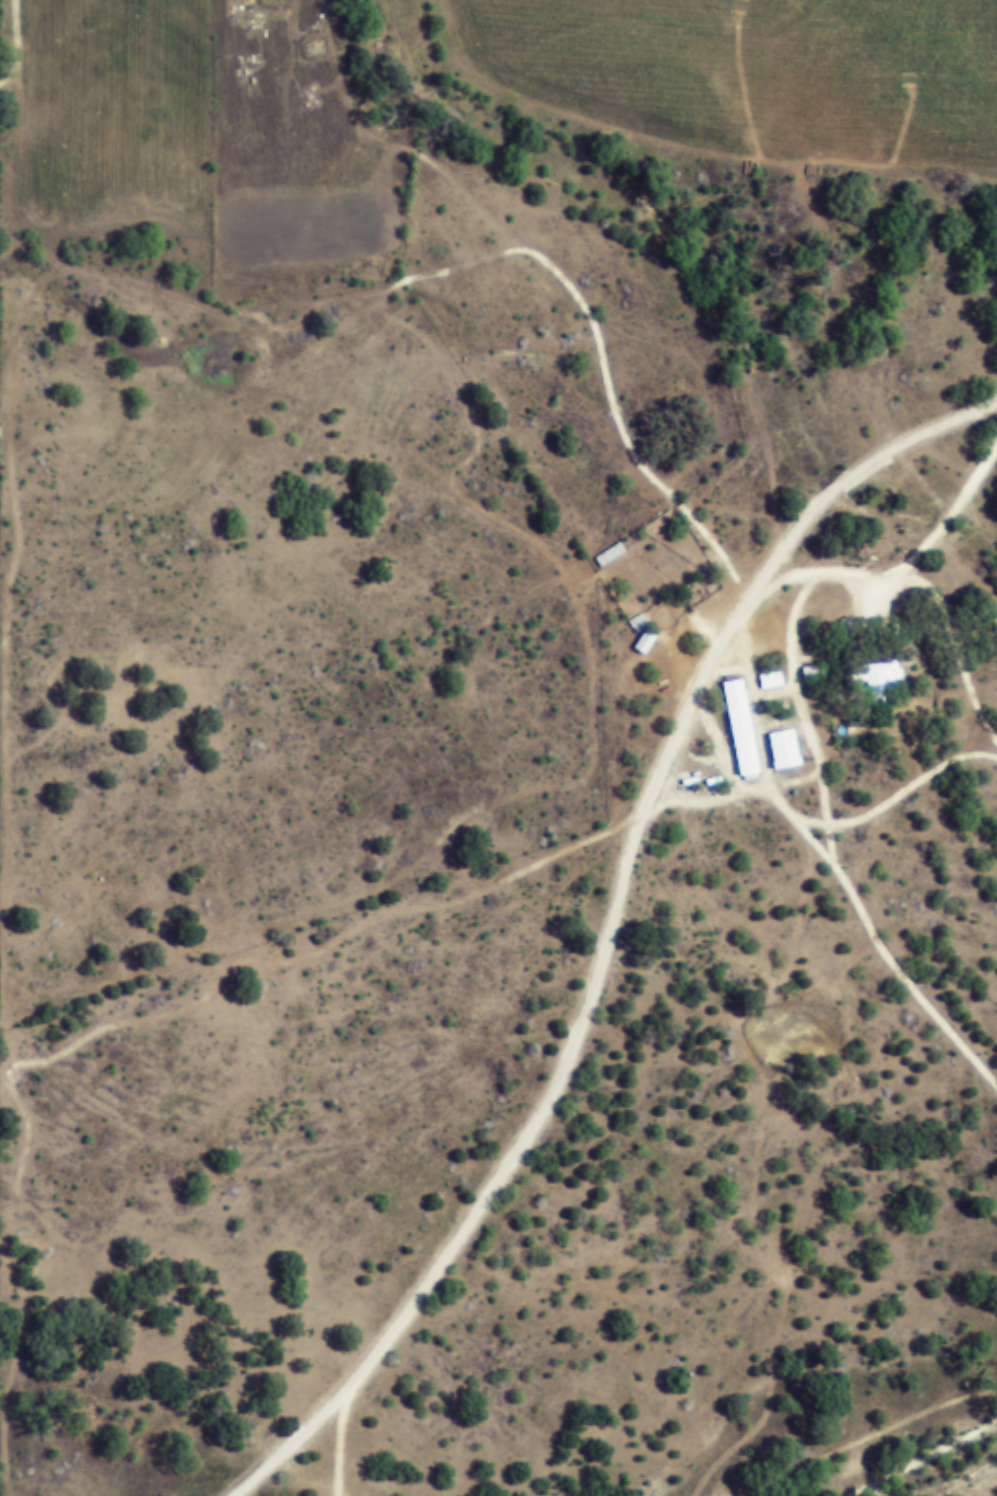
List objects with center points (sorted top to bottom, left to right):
road: (257, 104)
building: (612, 555)
road: (896, 612)
building: (646, 635)
building: (813, 672)
building: (882, 678)
building: (772, 680)
road: (836, 713)
building: (743, 728)
building: (787, 749)
road: (616, 935)
road: (855, 1439)
road: (343, 1446)

